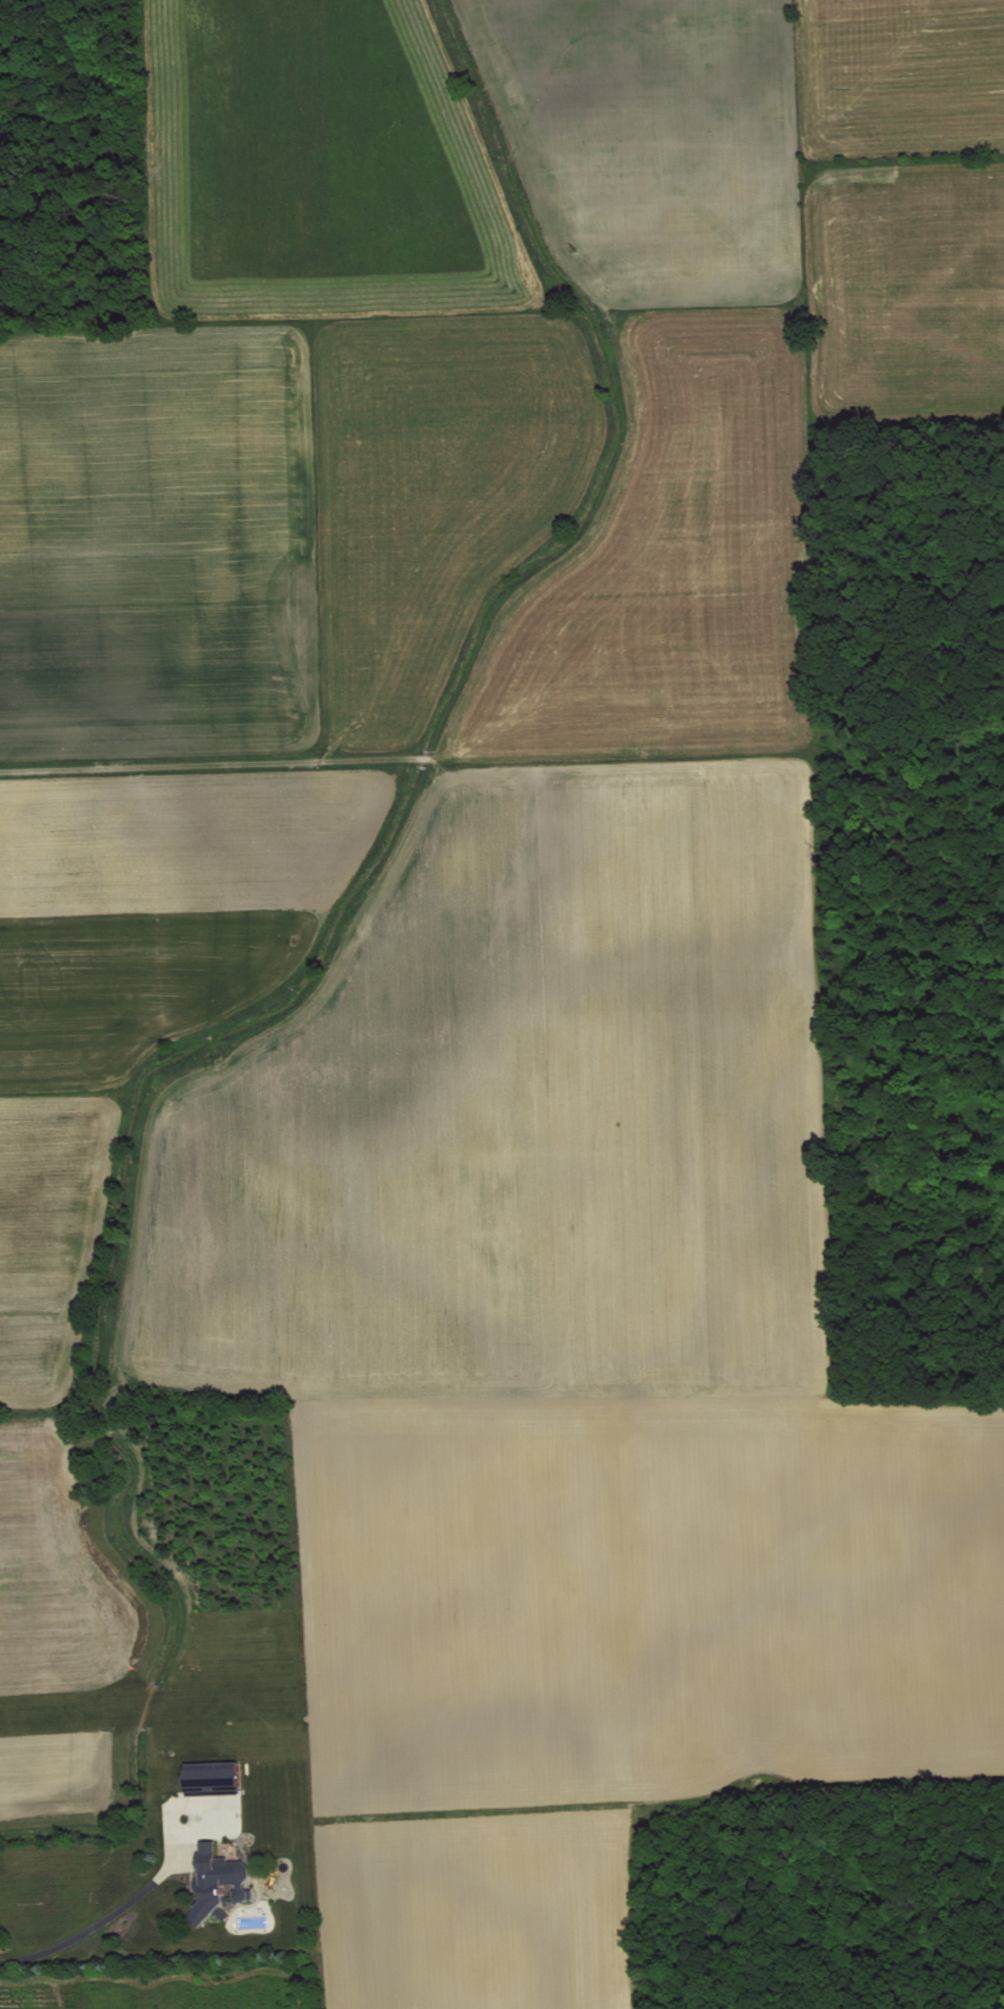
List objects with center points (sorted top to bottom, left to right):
building: (225, 1883)
road: (95, 1926)

